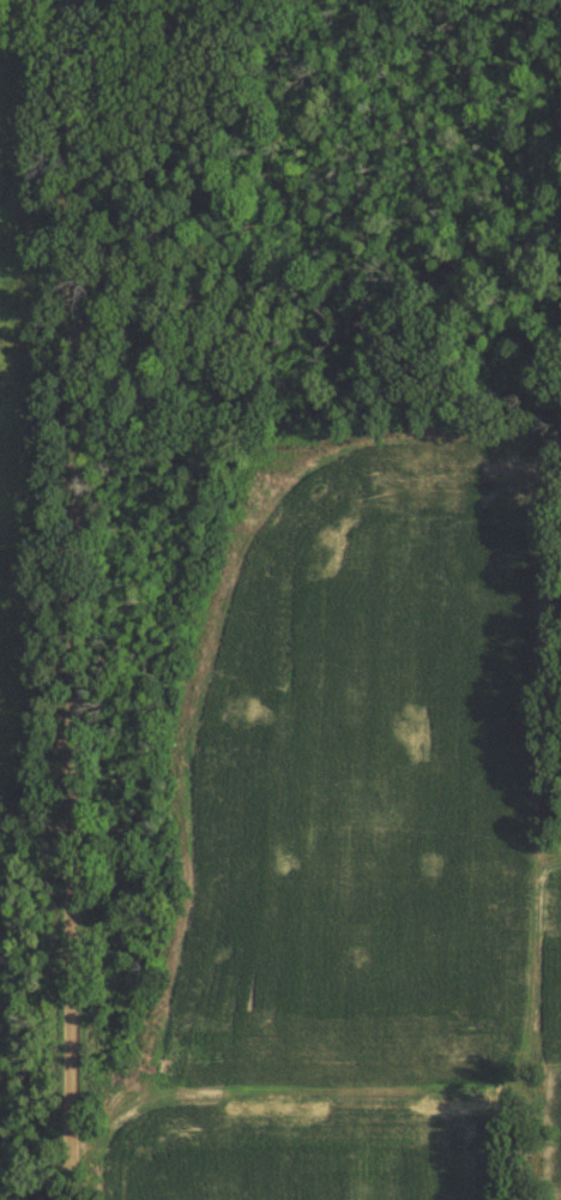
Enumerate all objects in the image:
road: (78, 600)

